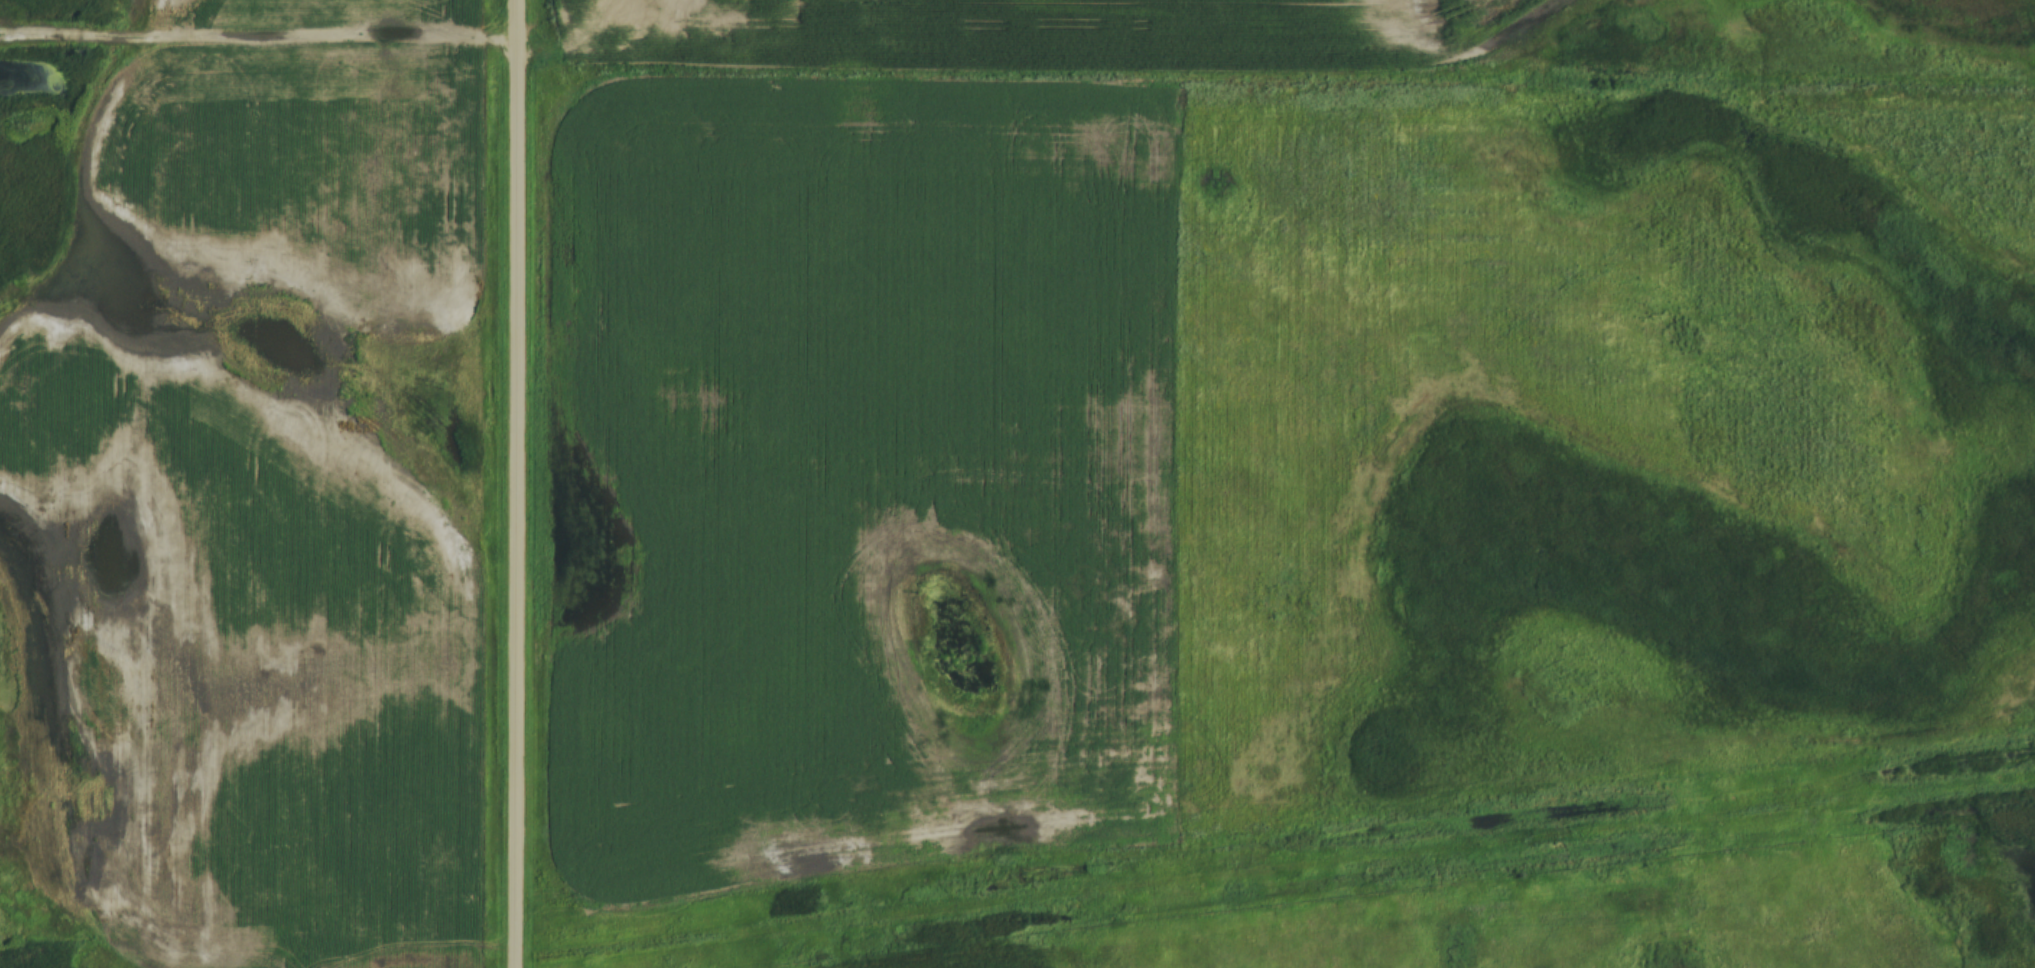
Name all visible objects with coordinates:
road: (259, 29)
road: (518, 483)

